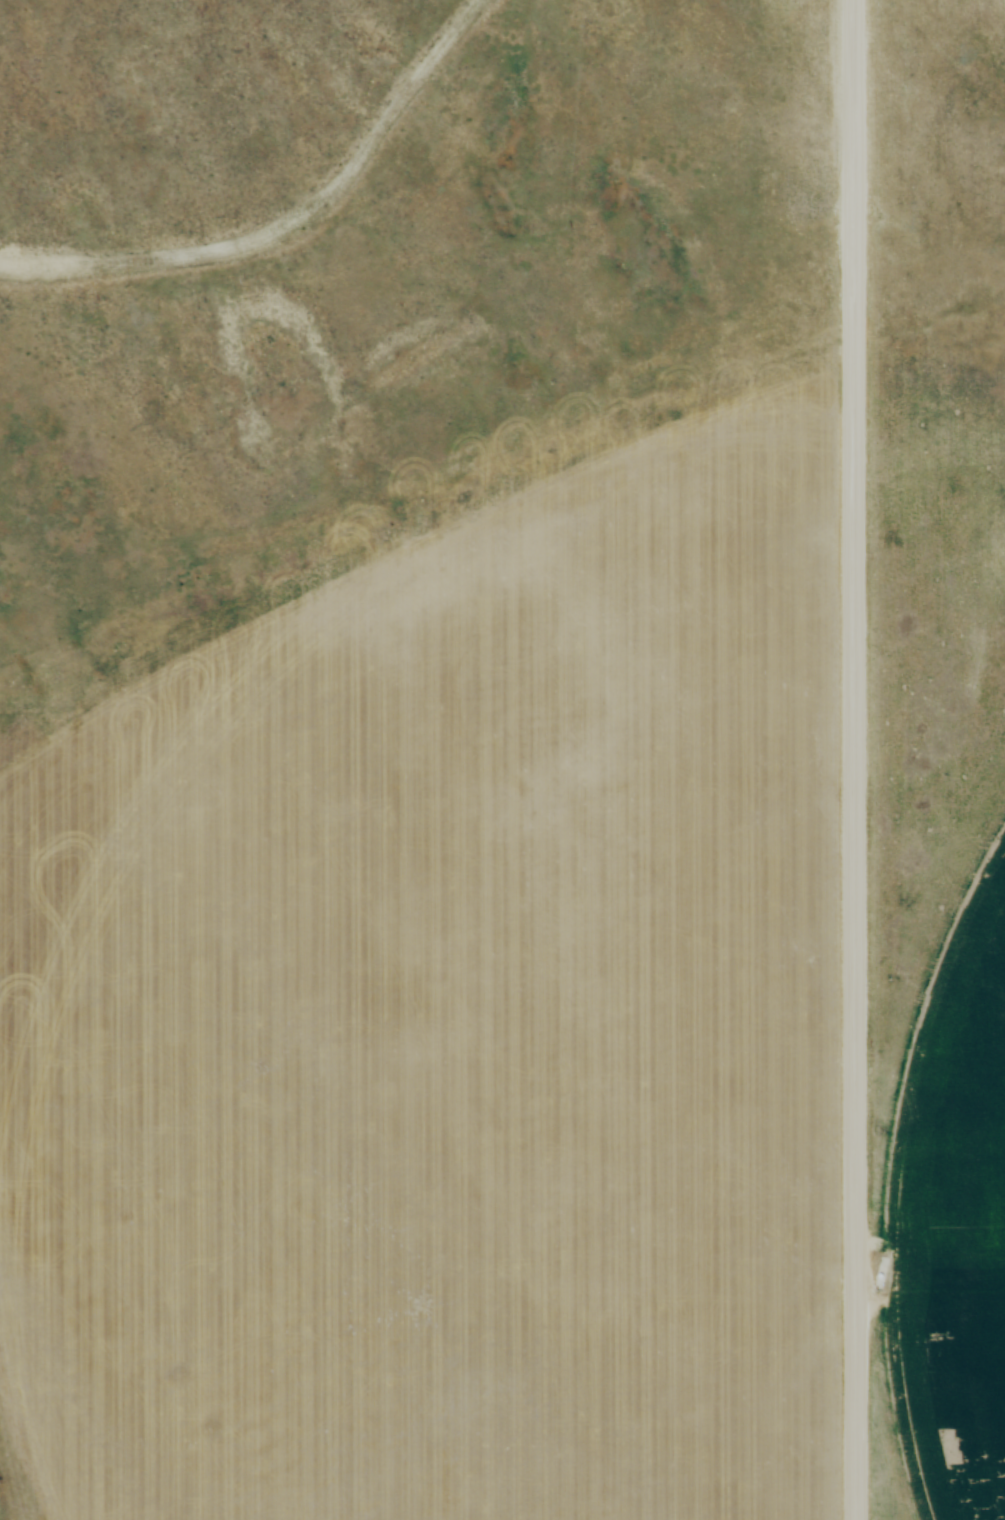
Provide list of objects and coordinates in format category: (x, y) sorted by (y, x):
road: (854, 759)
crop: (449, 1068)
crop: (954, 1223)

